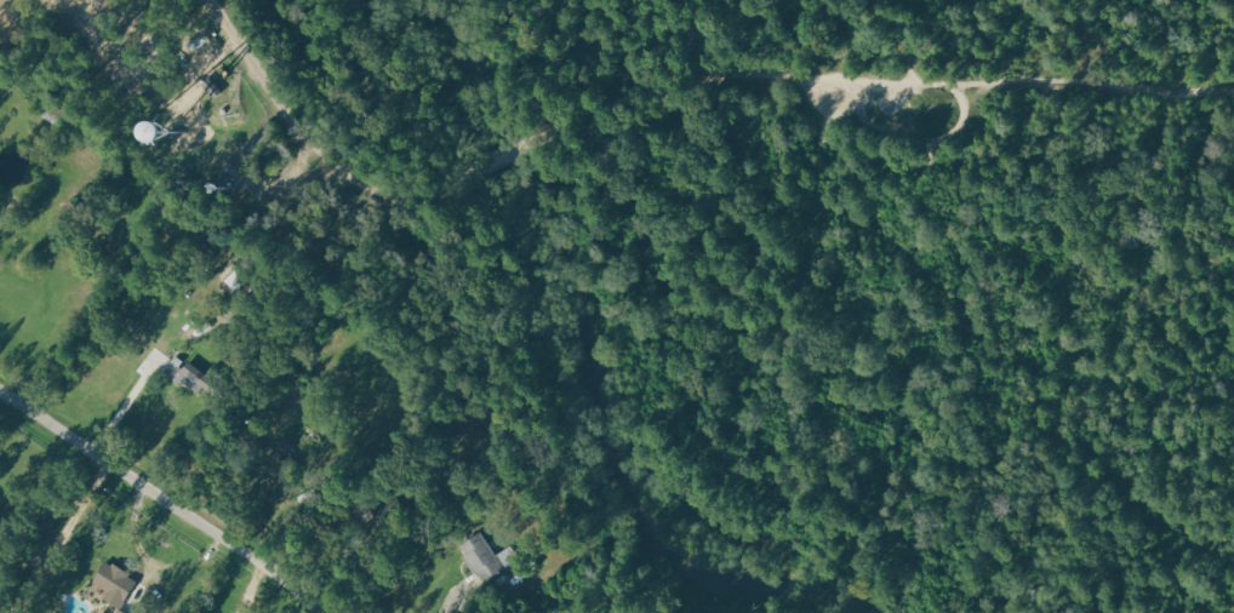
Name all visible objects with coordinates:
road: (248, 75)
road: (864, 84)
road: (472, 171)
road: (360, 188)
building: (196, 377)
river: (584, 382)
road: (124, 411)
road: (162, 502)
building: (490, 557)
building: (120, 584)
road: (444, 605)

